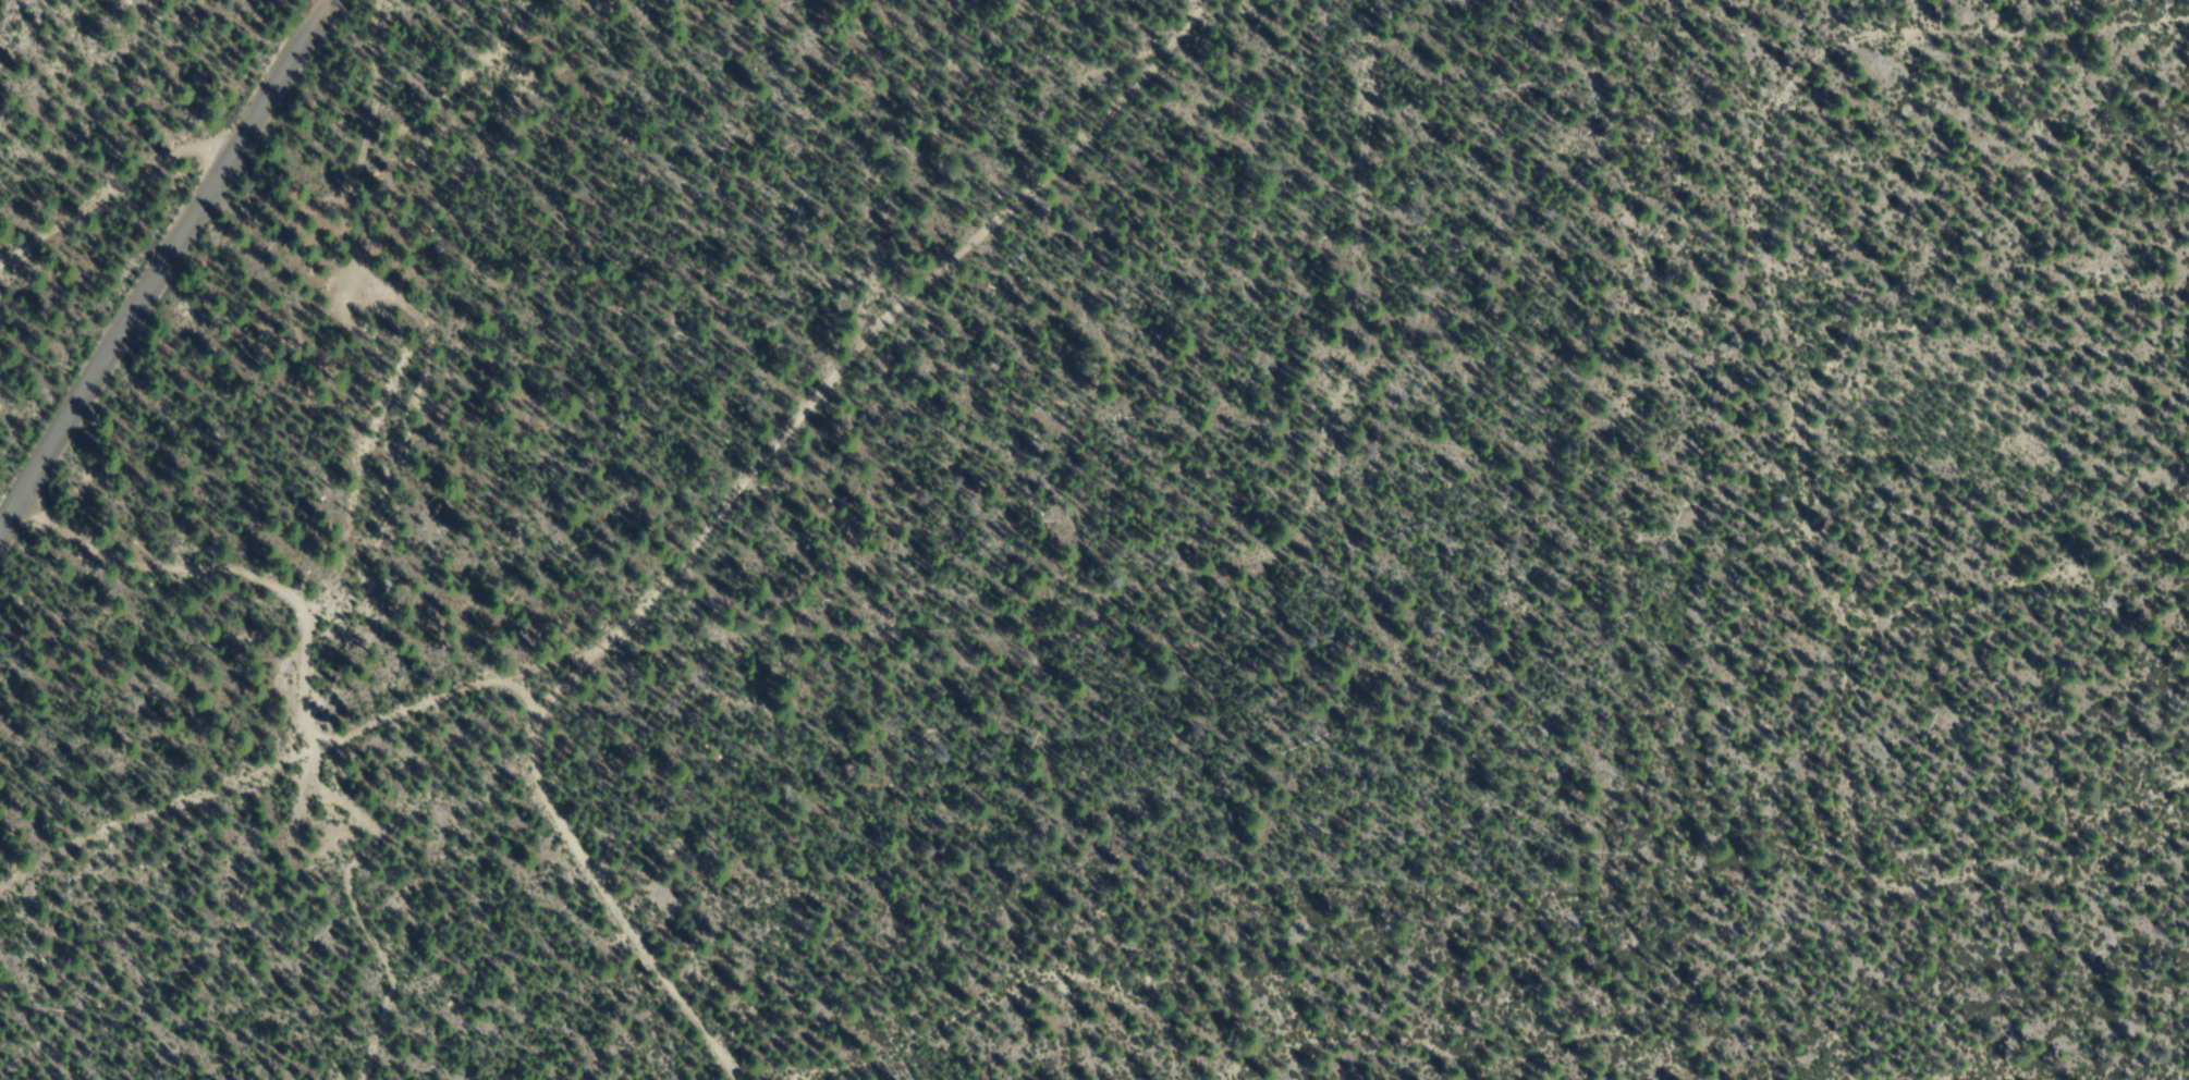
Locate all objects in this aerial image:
road: (114, 196)
road: (162, 267)
road: (1832, 304)
road: (423, 318)
road: (2025, 318)
road: (855, 351)
road: (307, 716)
road: (313, 752)
road: (1948, 858)
road: (603, 888)
road: (1008, 1016)
road: (1387, 1043)
road: (1606, 1053)

